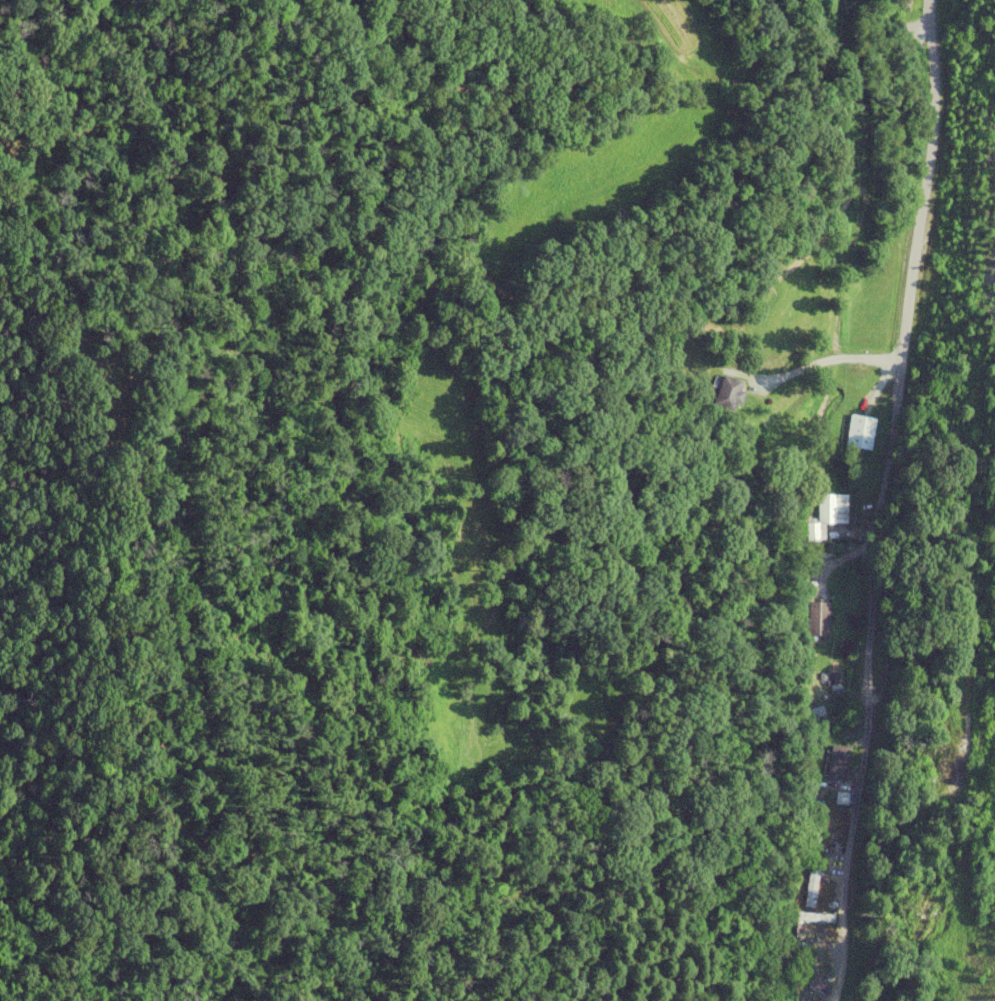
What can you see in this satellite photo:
road: (889, 23)
building: (726, 392)
building: (858, 432)
road: (873, 500)
building: (821, 517)
building: (817, 618)
building: (836, 762)
building: (810, 884)
building: (814, 917)
building: (813, 944)

